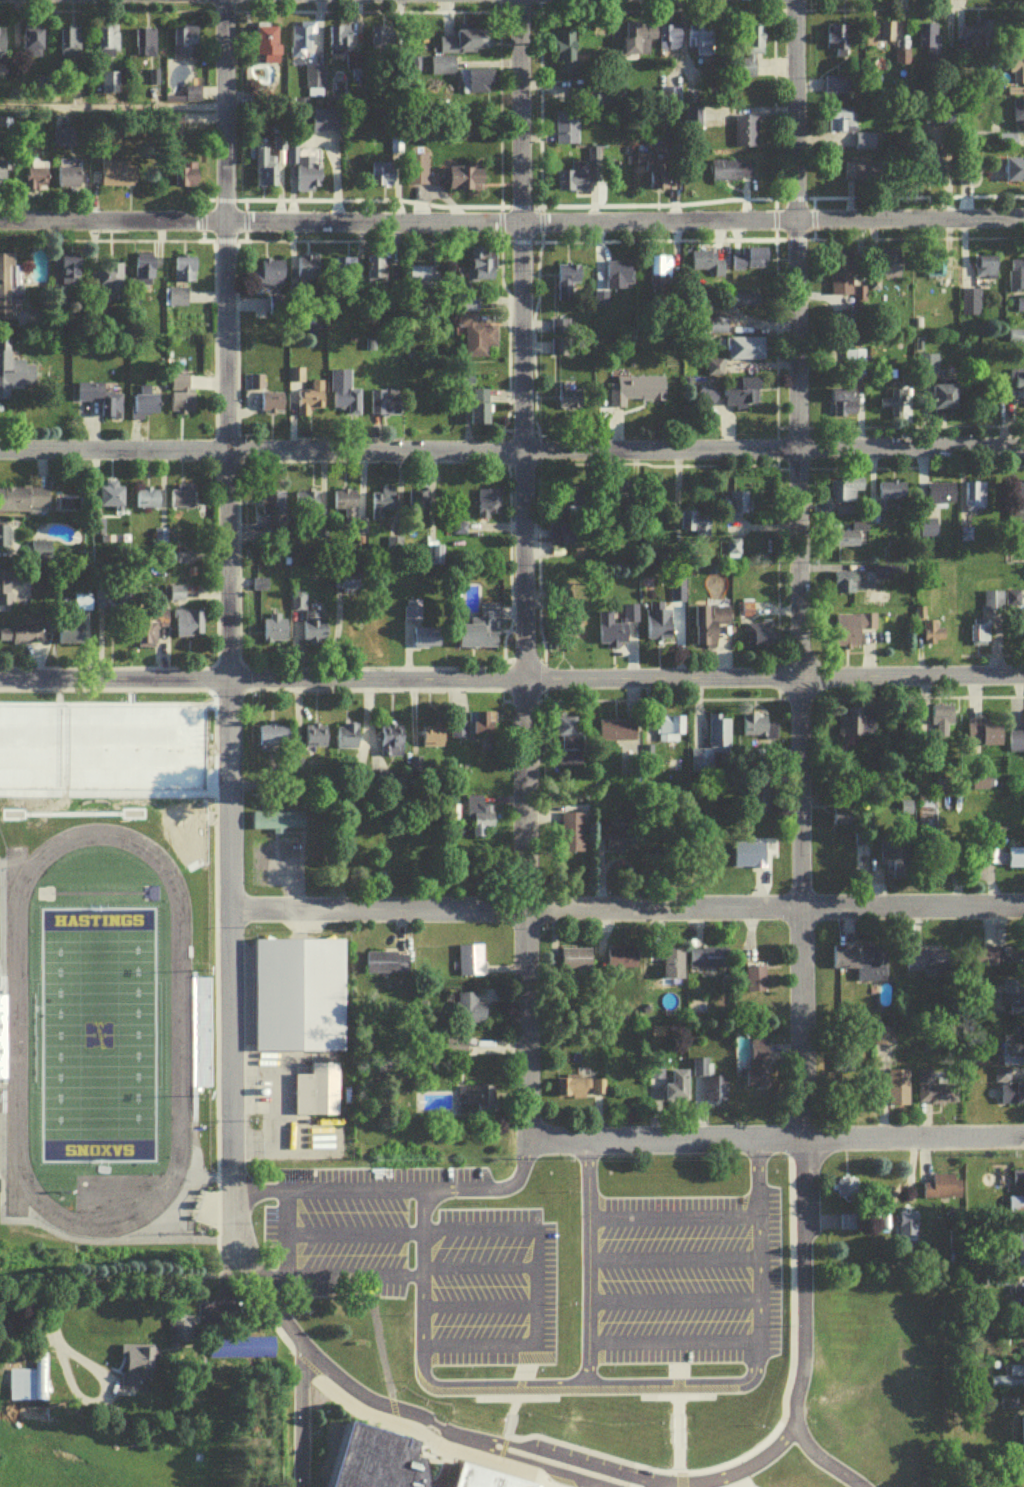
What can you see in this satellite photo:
building: (1022, 31)
building: (879, 36)
building: (668, 40)
building: (70, 41)
building: (381, 41)
building: (34, 42)
building: (637, 42)
building: (301, 43)
building: (338, 43)
building: (835, 44)
building: (107, 45)
building: (465, 45)
building: (698, 45)
building: (927, 45)
building: (145, 46)
building: (186, 47)
building: (265, 47)
building: (2, 48)
building: (749, 52)
building: (564, 55)
building: (441, 70)
building: (1016, 75)
building: (313, 81)
building: (475, 81)
building: (109, 86)
building: (838, 90)
building: (192, 98)
building: (1018, 113)
building: (326, 124)
building: (840, 124)
building: (565, 132)
building: (744, 136)
building: (864, 145)
building: (1007, 145)
building: (263, 170)
building: (416, 173)
building: (730, 174)
building: (862, 174)
building: (1014, 174)
building: (307, 175)
building: (660, 176)
building: (1, 177)
building: (119, 177)
building: (382, 178)
building: (936, 178)
building: (187, 179)
building: (965, 180)
building: (69, 181)
building: (463, 182)
building: (572, 182)
building: (31, 183)
road: (512, 226)
building: (749, 264)
building: (707, 267)
building: (481, 269)
building: (889, 270)
building: (985, 271)
building: (933, 272)
building: (345, 273)
building: (70, 274)
building: (184, 274)
building: (144, 275)
building: (376, 275)
building: (308, 276)
building: (269, 277)
building: (660, 277)
building: (840, 277)
building: (616, 279)
building: (418, 280)
building: (1016, 280)
building: (109, 283)
building: (569, 287)
building: (7, 292)
building: (177, 302)
building: (969, 307)
building: (1020, 310)
building: (717, 330)
building: (559, 337)
building: (476, 340)
building: (1016, 341)
building: (745, 352)
building: (853, 362)
building: (926, 368)
building: (15, 382)
building: (1019, 390)
building: (634, 394)
building: (733, 398)
building: (570, 400)
building: (944, 402)
building: (100, 404)
building: (181, 406)
building: (308, 406)
building: (844, 406)
building: (271, 407)
building: (385, 407)
building: (146, 409)
building: (891, 409)
building: (479, 413)
road: (512, 453)
building: (844, 493)
building: (890, 497)
building: (940, 499)
building: (111, 500)
building: (973, 500)
building: (271, 502)
building: (305, 502)
building: (420, 502)
building: (738, 502)
building: (22, 503)
building: (147, 503)
building: (181, 504)
building: (68, 506)
building: (347, 506)
building: (488, 507)
building: (383, 512)
building: (844, 516)
building: (1018, 518)
building: (693, 526)
building: (567, 532)
building: (928, 534)
building: (4, 540)
building: (842, 543)
building: (733, 551)
building: (41, 555)
road: (794, 569)
road: (520, 570)
building: (848, 587)
building: (8, 591)
road: (227, 593)
building: (176, 599)
building: (297, 605)
building: (993, 607)
building: (74, 628)
building: (190, 628)
building: (1023, 628)
building: (709, 629)
building: (658, 630)
building: (150, 631)
building: (314, 631)
building: (615, 631)
building: (273, 634)
building: (481, 634)
building: (419, 635)
building: (847, 636)
building: (936, 636)
building: (758, 639)
building: (21, 640)
road: (511, 682)
building: (938, 720)
building: (849, 727)
building: (474, 732)
building: (758, 732)
building: (668, 733)
building: (617, 734)
building: (567, 738)
building: (983, 738)
building: (274, 739)
building: (314, 740)
building: (347, 740)
building: (391, 743)
building: (432, 745)
building: (1016, 746)
building: (711, 748)
park: (100, 754)
building: (479, 820)
building: (278, 825)
building: (925, 828)
building: (572, 837)
building: (622, 845)
building: (749, 859)
building: (864, 859)
building: (1016, 862)
road: (626, 911)
building: (985, 961)
building: (1013, 962)
building: (709, 963)
building: (577, 964)
building: (472, 965)
building: (623, 965)
building: (862, 966)
building: (928, 966)
building: (387, 968)
building: (674, 969)
building: (756, 984)
building: (300, 1000)
building: (1016, 1008)
building: (470, 1014)
park: (98, 1040)
building: (883, 1041)
building: (456, 1052)
building: (758, 1068)
building: (842, 1069)
building: (1011, 1075)
building: (711, 1088)
building: (680, 1090)
building: (585, 1091)
building: (898, 1092)
building: (937, 1092)
building: (318, 1096)
building: (476, 1105)
road: (280, 1136)
road: (774, 1138)
road: (395, 1188)
building: (943, 1191)
building: (846, 1195)
road: (671, 1216)
parking lot: (344, 1222)
building: (848, 1225)
building: (907, 1228)
road: (532, 1231)
building: (1020, 1252)
road: (671, 1256)
road: (476, 1264)
parking lot: (679, 1278)
road: (803, 1281)
road: (90, 1282)
parking lot: (494, 1286)
road: (671, 1298)
road: (476, 1303)
building: (1018, 1304)
building: (181, 1333)
road: (672, 1341)
road: (476, 1343)
building: (243, 1352)
road: (422, 1364)
building: (139, 1369)
building: (1022, 1372)
road: (669, 1379)
building: (34, 1391)
road: (678, 1395)
road: (516, 1396)
road: (301, 1415)
road: (776, 1426)
road: (459, 1432)
building: (1023, 1450)
building: (374, 1458)
road: (825, 1459)
building: (485, 1478)

